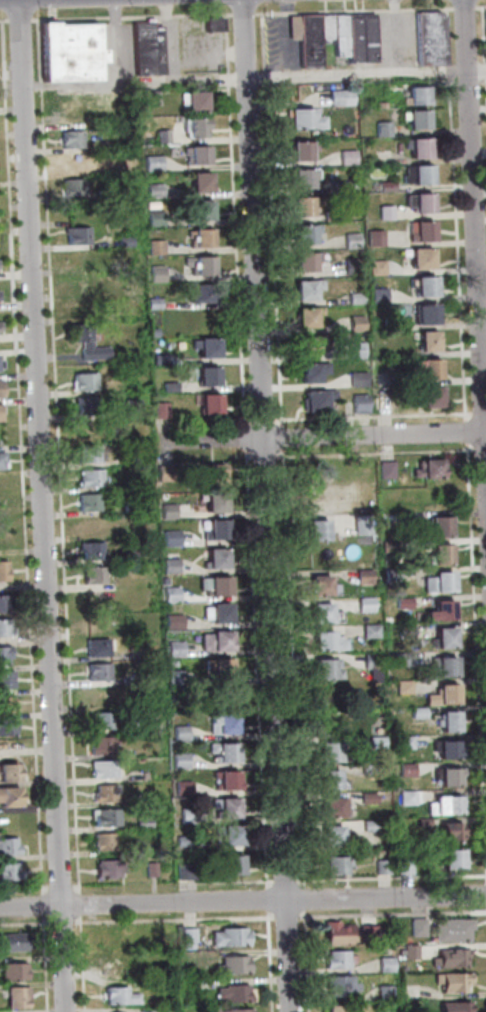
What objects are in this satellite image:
road: (481, 5)
road: (467, 8)
road: (130, 15)
road: (6, 20)
road: (23, 20)
building: (212, 22)
building: (328, 27)
building: (342, 34)
building: (362, 36)
road: (278, 37)
parking lot: (397, 37)
road: (399, 37)
building: (307, 38)
building: (431, 38)
building: (150, 47)
road: (483, 49)
building: (71, 51)
road: (175, 74)
road: (478, 74)
road: (359, 77)
building: (420, 94)
building: (153, 96)
building: (344, 97)
building: (199, 100)
building: (71, 114)
building: (306, 117)
building: (422, 120)
building: (198, 126)
building: (387, 128)
building: (165, 135)
building: (72, 138)
building: (423, 146)
building: (307, 149)
building: (198, 155)
building: (350, 156)
building: (157, 161)
building: (74, 162)
building: (125, 168)
building: (426, 174)
building: (309, 176)
road: (476, 178)
building: (205, 182)
building: (390, 184)
building: (342, 185)
building: (76, 186)
building: (158, 191)
building: (426, 203)
building: (309, 206)
building: (205, 208)
building: (389, 212)
building: (333, 214)
building: (157, 217)
building: (425, 230)
building: (311, 232)
building: (353, 236)
building: (377, 236)
building: (80, 237)
building: (206, 237)
building: (128, 240)
building: (158, 243)
building: (425, 257)
building: (309, 260)
building: (355, 263)
building: (209, 264)
building: (378, 264)
building: (159, 273)
building: (429, 284)
building: (311, 287)
building: (208, 292)
building: (380, 294)
building: (1, 295)
building: (358, 297)
building: (156, 302)
building: (82, 305)
building: (430, 313)
building: (312, 317)
building: (387, 321)
building: (359, 322)
building: (1, 326)
building: (81, 331)
building: (155, 331)
building: (433, 337)
building: (314, 344)
building: (214, 347)
building: (359, 349)
building: (97, 352)
building: (163, 358)
building: (2, 362)
building: (436, 367)
building: (317, 371)
building: (212, 374)
building: (360, 377)
building: (87, 382)
building: (172, 386)
building: (2, 388)
building: (436, 395)
road: (245, 396)
building: (319, 399)
building: (361, 401)
building: (213, 402)
building: (385, 402)
building: (89, 404)
building: (134, 407)
building: (161, 409)
building: (1, 411)
road: (371, 416)
building: (132, 432)
road: (282, 436)
road: (321, 437)
building: (91, 452)
road: (56, 454)
road: (24, 456)
building: (133, 457)
building: (2, 460)
building: (389, 469)
building: (434, 470)
building: (217, 471)
building: (92, 477)
building: (134, 481)
building: (91, 499)
building: (319, 501)
building: (219, 502)
road: (47, 505)
building: (133, 505)
road: (271, 505)
building: (169, 509)
building: (364, 523)
building: (94, 524)
building: (441, 526)
building: (133, 528)
building: (221, 528)
building: (322, 530)
building: (174, 535)
building: (94, 550)
building: (132, 553)
building: (445, 553)
building: (220, 558)
building: (171, 562)
building: (5, 569)
road: (289, 575)
building: (94, 576)
building: (367, 576)
building: (446, 579)
building: (222, 584)
building: (324, 585)
building: (173, 593)
building: (5, 602)
building: (407, 603)
building: (368, 604)
building: (448, 611)
building: (326, 612)
building: (225, 613)
building: (97, 619)
building: (174, 619)
road: (476, 621)
building: (7, 628)
building: (408, 628)
building: (373, 630)
building: (449, 637)
building: (225, 639)
building: (332, 640)
building: (100, 646)
building: (177, 647)
building: (7, 655)
building: (406, 657)
building: (374, 660)
building: (445, 663)
building: (330, 667)
building: (221, 668)
building: (99, 669)
building: (178, 675)
building: (7, 678)
building: (406, 685)
building: (447, 692)
building: (8, 703)
building: (420, 712)
building: (105, 717)
building: (227, 720)
building: (454, 720)
building: (9, 727)
building: (180, 730)
building: (379, 740)
building: (102, 742)
building: (407, 742)
building: (229, 749)
building: (453, 749)
building: (336, 751)
building: (182, 759)
building: (106, 767)
building: (370, 769)
building: (12, 772)
building: (454, 776)
building: (231, 778)
building: (336, 778)
building: (185, 786)
building: (108, 790)
building: (143, 795)
building: (372, 797)
building: (409, 797)
building: (13, 798)
building: (452, 804)
building: (230, 807)
building: (338, 807)
building: (108, 816)
building: (146, 821)
building: (373, 824)
building: (455, 832)
building: (236, 834)
building: (336, 835)
building: (186, 838)
building: (108, 841)
building: (10, 846)
building: (457, 859)
building: (406, 864)
building: (236, 866)
building: (338, 866)
building: (385, 866)
building: (110, 868)
building: (154, 868)
building: (189, 868)
building: (11, 871)
road: (377, 876)
road: (224, 880)
road: (243, 901)
road: (347, 913)
road: (174, 919)
road: (22, 923)
building: (418, 926)
building: (453, 930)
building: (341, 933)
building: (372, 933)
building: (127, 935)
building: (193, 935)
building: (237, 935)
building: (17, 937)
building: (110, 939)
road: (46, 951)
road: (81, 951)
building: (411, 951)
building: (337, 958)
building: (454, 958)
building: (237, 963)
building: (391, 965)
building: (117, 968)
building: (17, 969)
building: (457, 981)
building: (339, 986)
building: (242, 991)
building: (385, 991)
building: (20, 994)
building: (122, 994)
building: (456, 1006)
building: (335, 1007)
building: (214, 1009)
building: (242, 1009)
building: (126, 1011)
building: (370, 1011)

